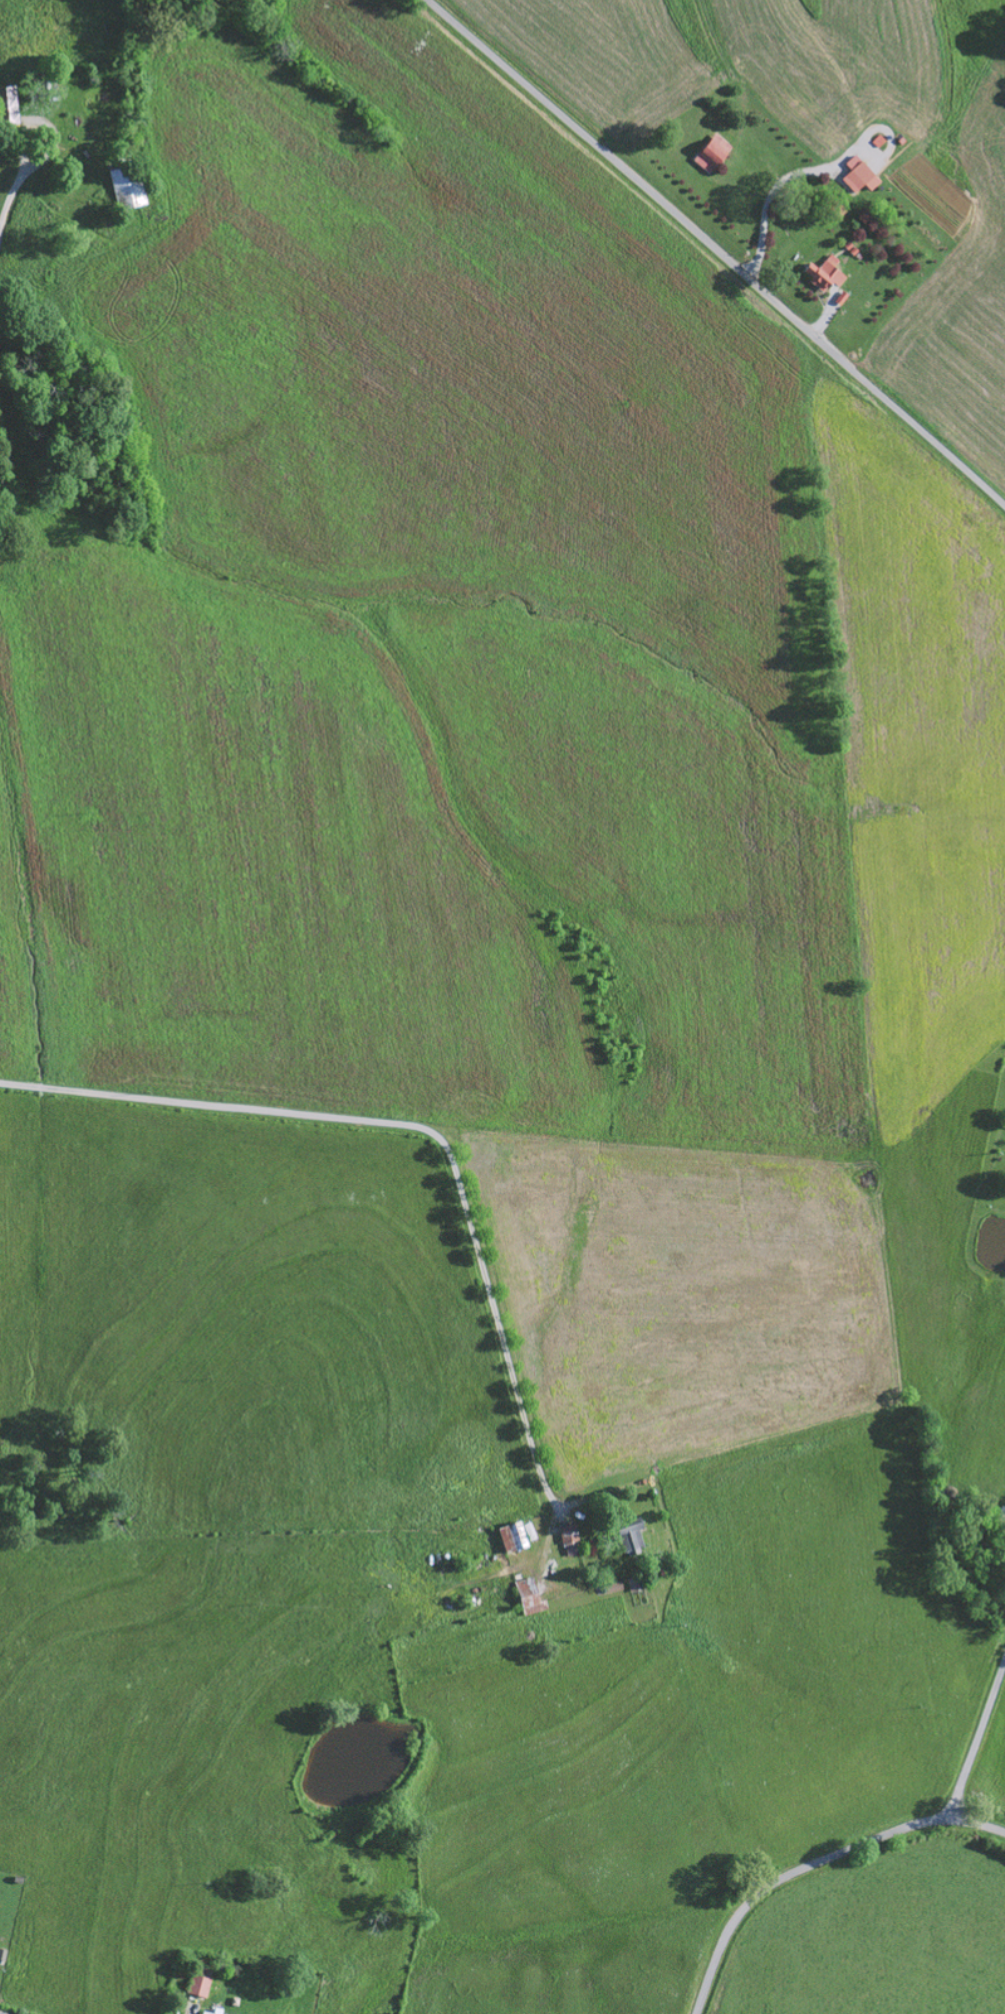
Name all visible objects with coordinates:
building: (716, 153)
building: (862, 175)
building: (129, 189)
road: (718, 250)
building: (828, 274)
road: (457, 1168)
building: (520, 1537)
building: (572, 1540)
building: (634, 1541)
road: (1002, 1551)
road: (977, 1741)
road: (84, 1854)
road: (814, 1864)
building: (201, 1985)
building: (217, 2011)

